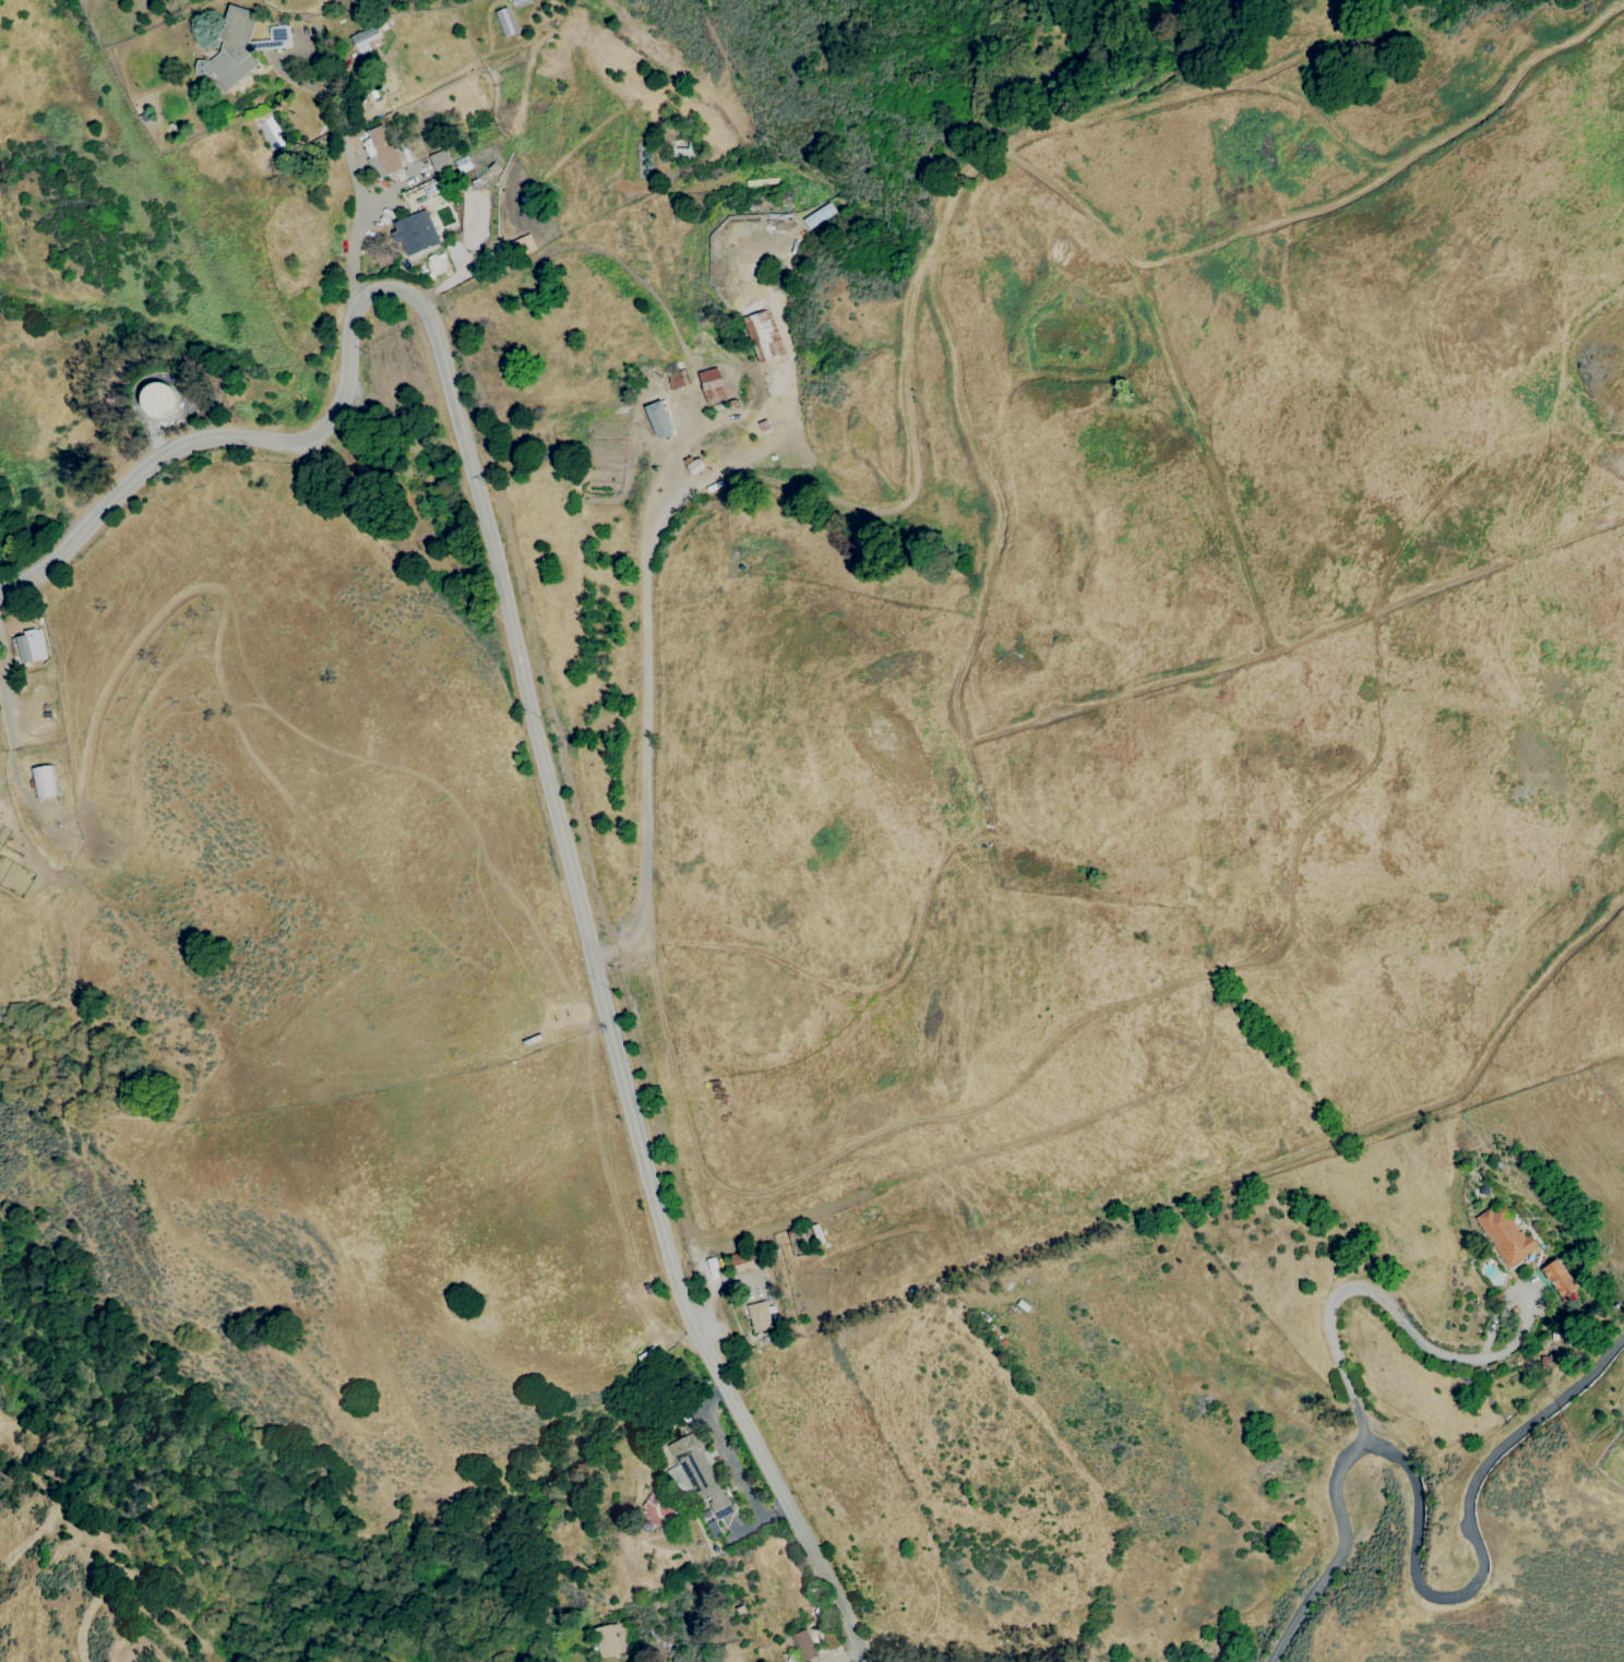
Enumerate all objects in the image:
building: (505, 21)
building: (365, 37)
building: (238, 48)
park: (1001, 67)
road: (345, 113)
building: (383, 148)
building: (440, 162)
building: (422, 192)
road: (358, 216)
building: (414, 231)
building: (762, 337)
building: (710, 385)
building: (159, 399)
building: (658, 419)
building: (31, 645)
road: (5, 693)
road: (645, 704)
road: (530, 715)
building: (45, 780)
building: (1504, 1234)
building: (741, 1260)
building: (1556, 1277)
building: (757, 1316)
road: (1339, 1359)
building: (695, 1473)
building: (656, 1509)
road: (1464, 1553)
building: (610, 1639)
building: (803, 1646)
building: (1201, 1661)

